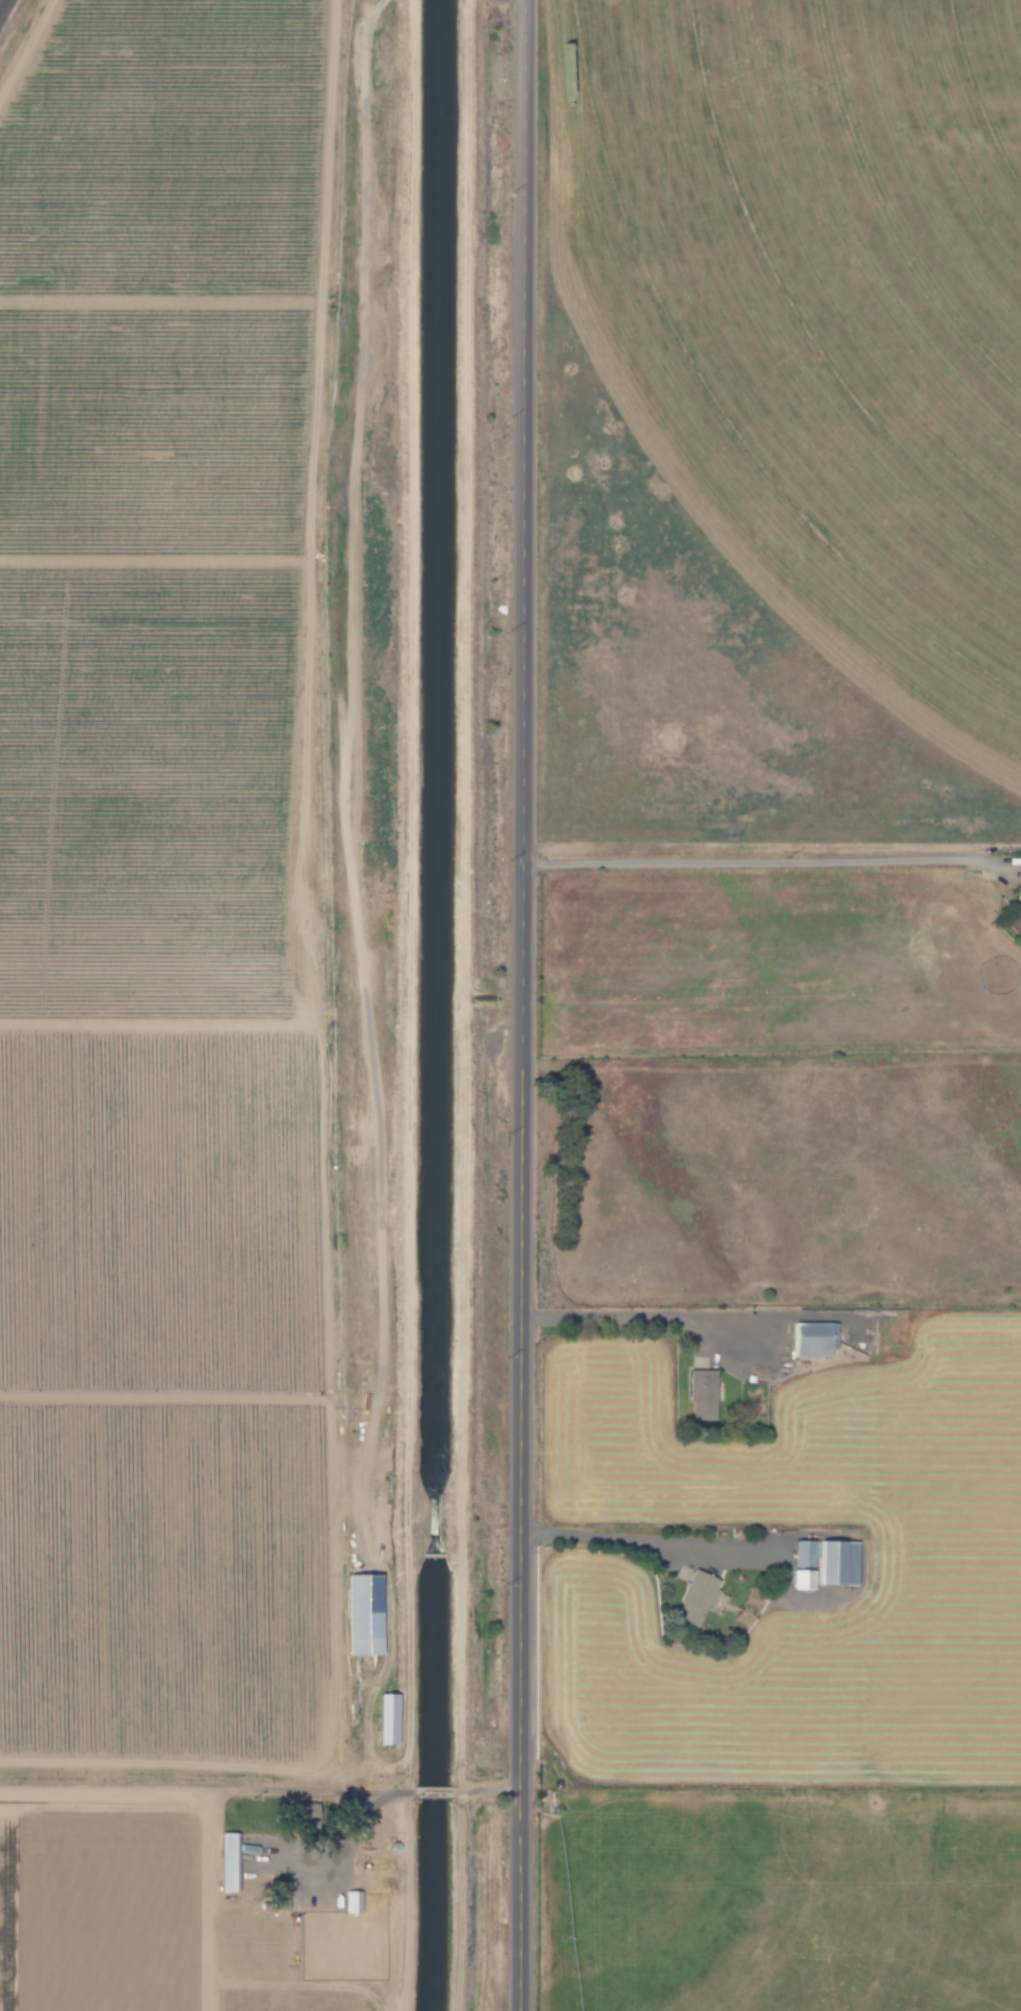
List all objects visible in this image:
railway: (0, 1)
crop: (833, 266)
road: (768, 862)
building: (1020, 893)
road: (354, 900)
building: (1014, 923)
crop: (175, 972)
road: (407, 1005)
road: (461, 1005)
road: (520, 1005)
road: (631, 1317)
building: (812, 1337)
building: (700, 1392)
road: (614, 1536)
building: (801, 1551)
building: (839, 1560)
building: (802, 1578)
building: (694, 1593)
building: (362, 1612)
building: (384, 1717)
road: (430, 1790)
road: (484, 1790)
road: (361, 1815)
building: (226, 1860)
building: (350, 1900)
crop: (267, 1980)

